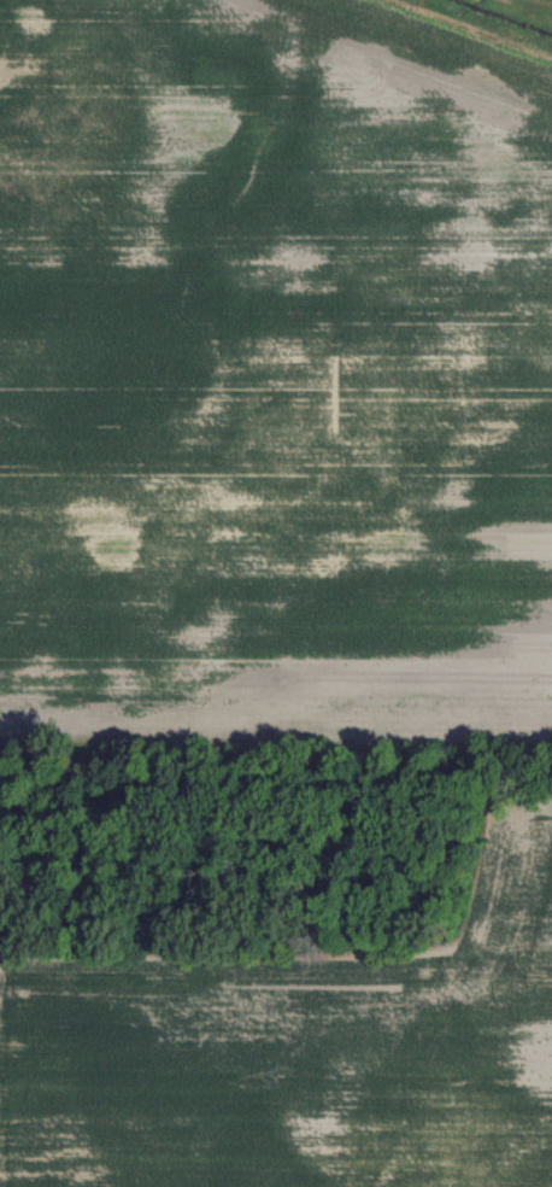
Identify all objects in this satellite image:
crop: (276, 363)
crop: (275, 957)

